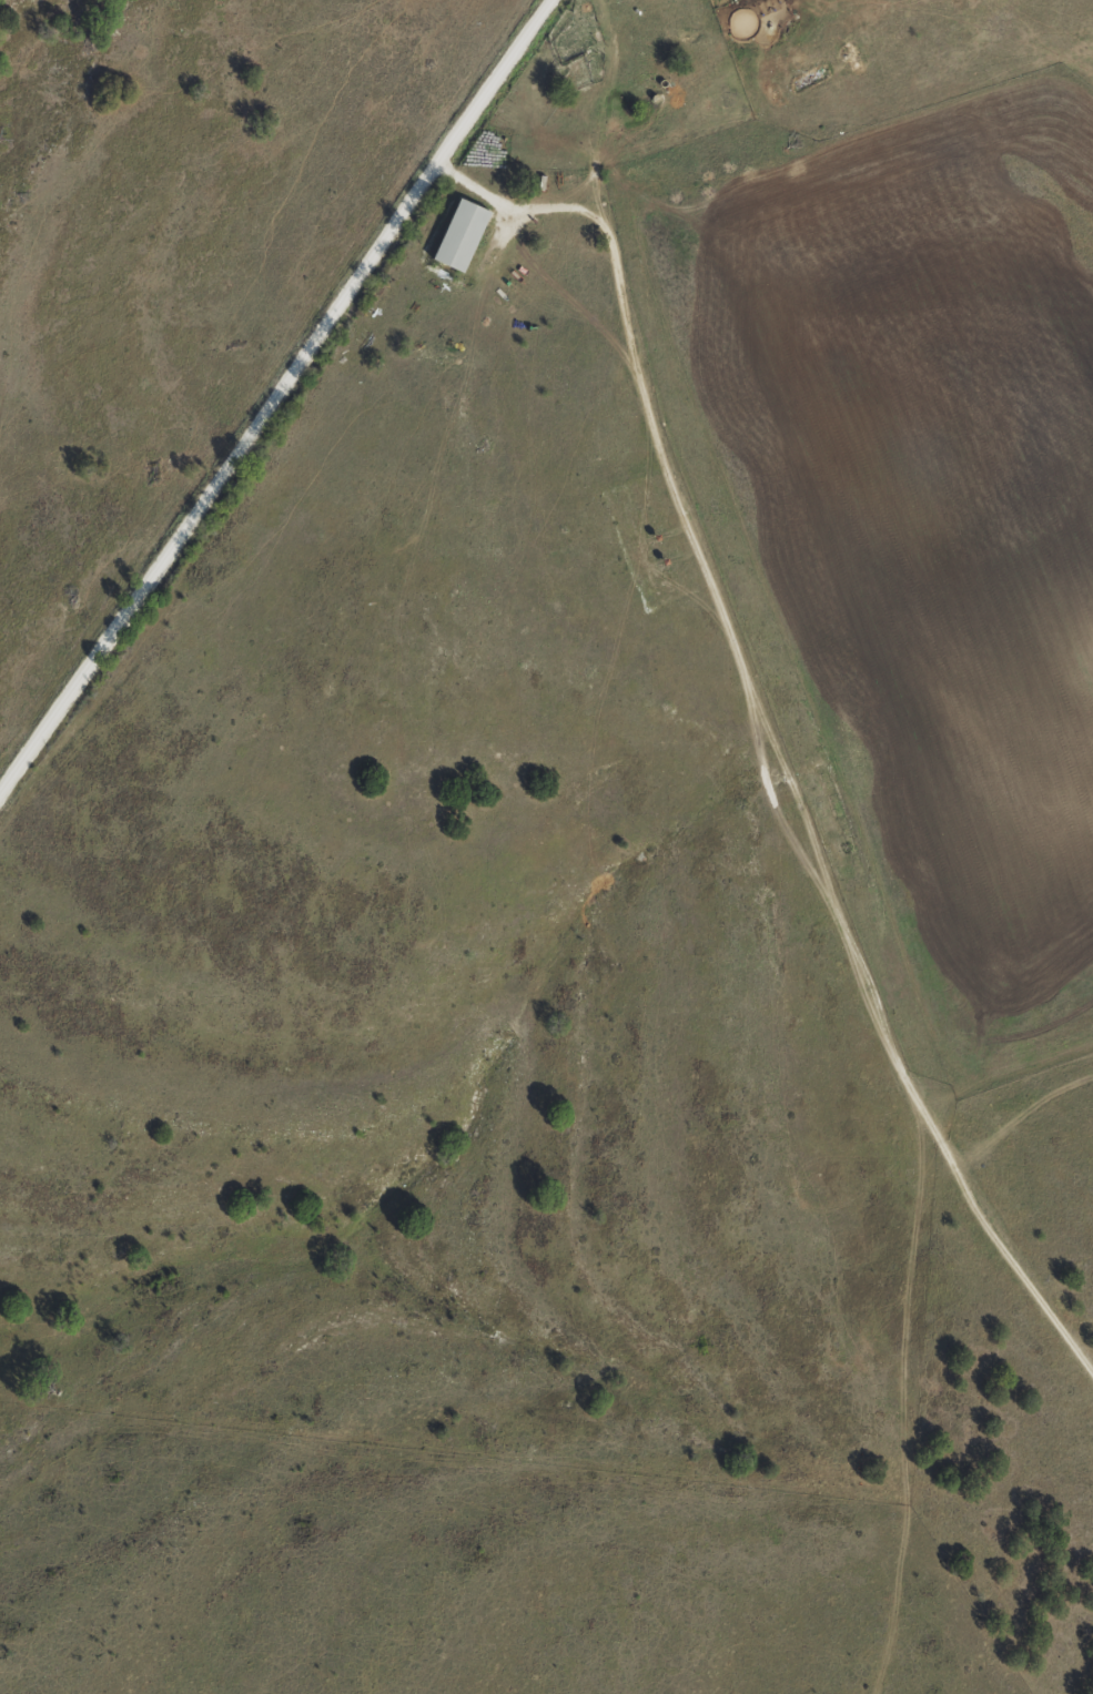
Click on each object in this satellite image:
road: (842, 32)
building: (456, 235)
road: (270, 389)
road: (772, 718)

